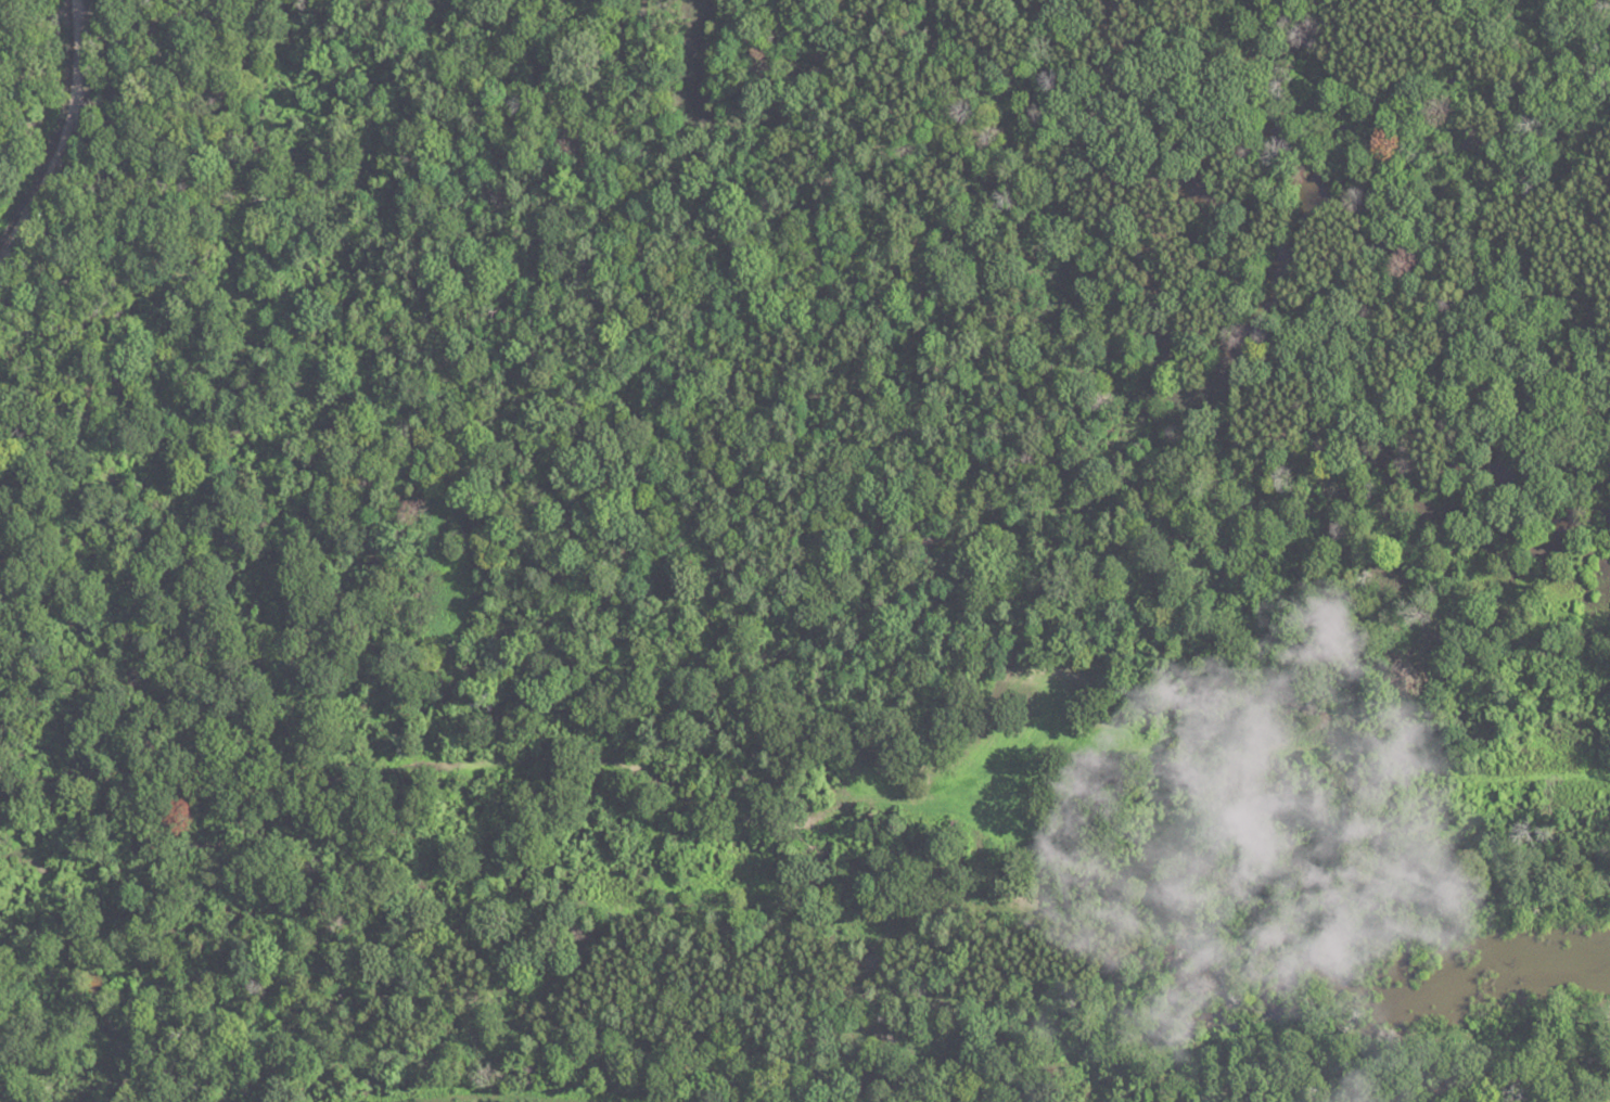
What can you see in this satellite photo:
road: (61, 156)

